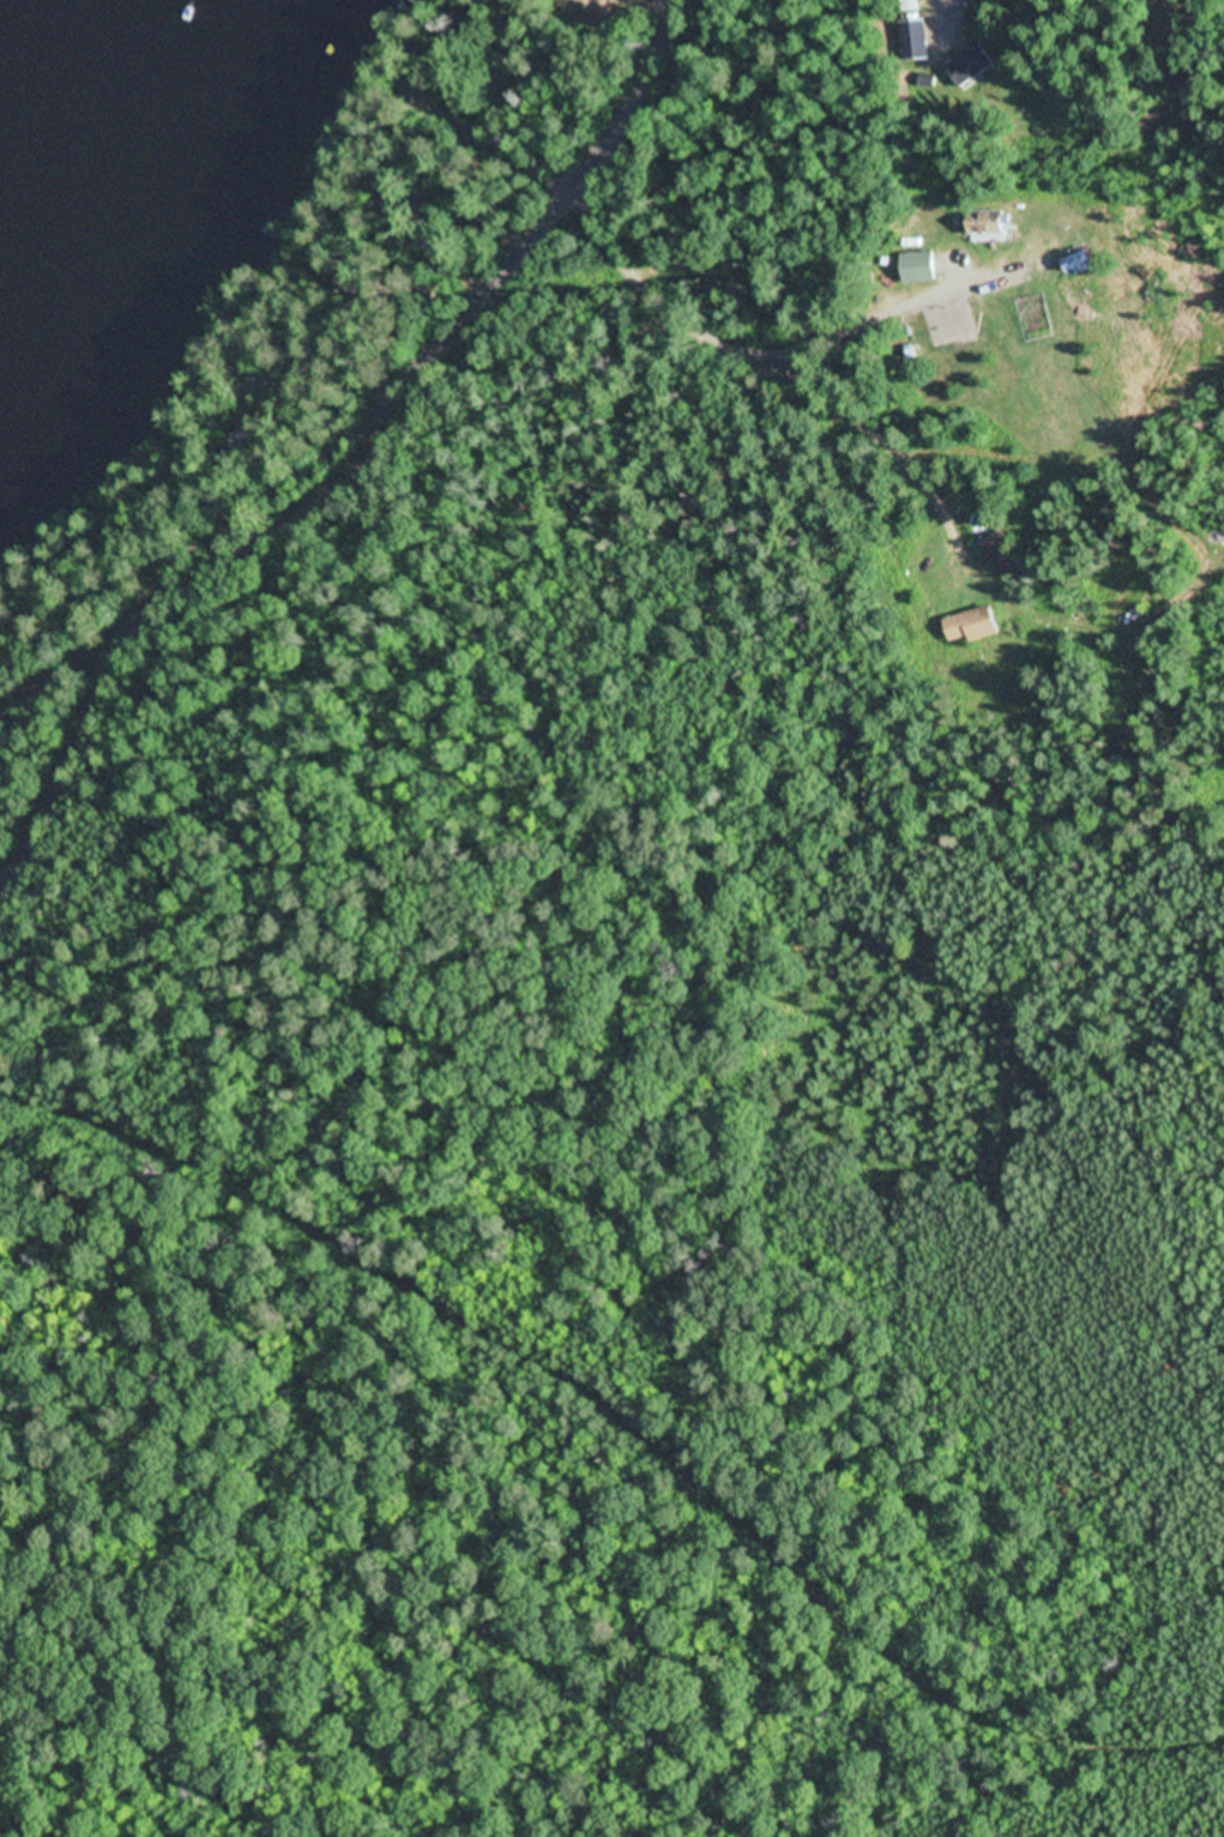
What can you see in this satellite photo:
building: (910, 4)
building: (915, 40)
building: (971, 66)
building: (991, 225)
building: (1080, 263)
building: (921, 266)
road: (658, 289)
building: (355, 291)
road: (334, 452)
building: (1008, 555)
building: (972, 625)
road: (628, 1401)

